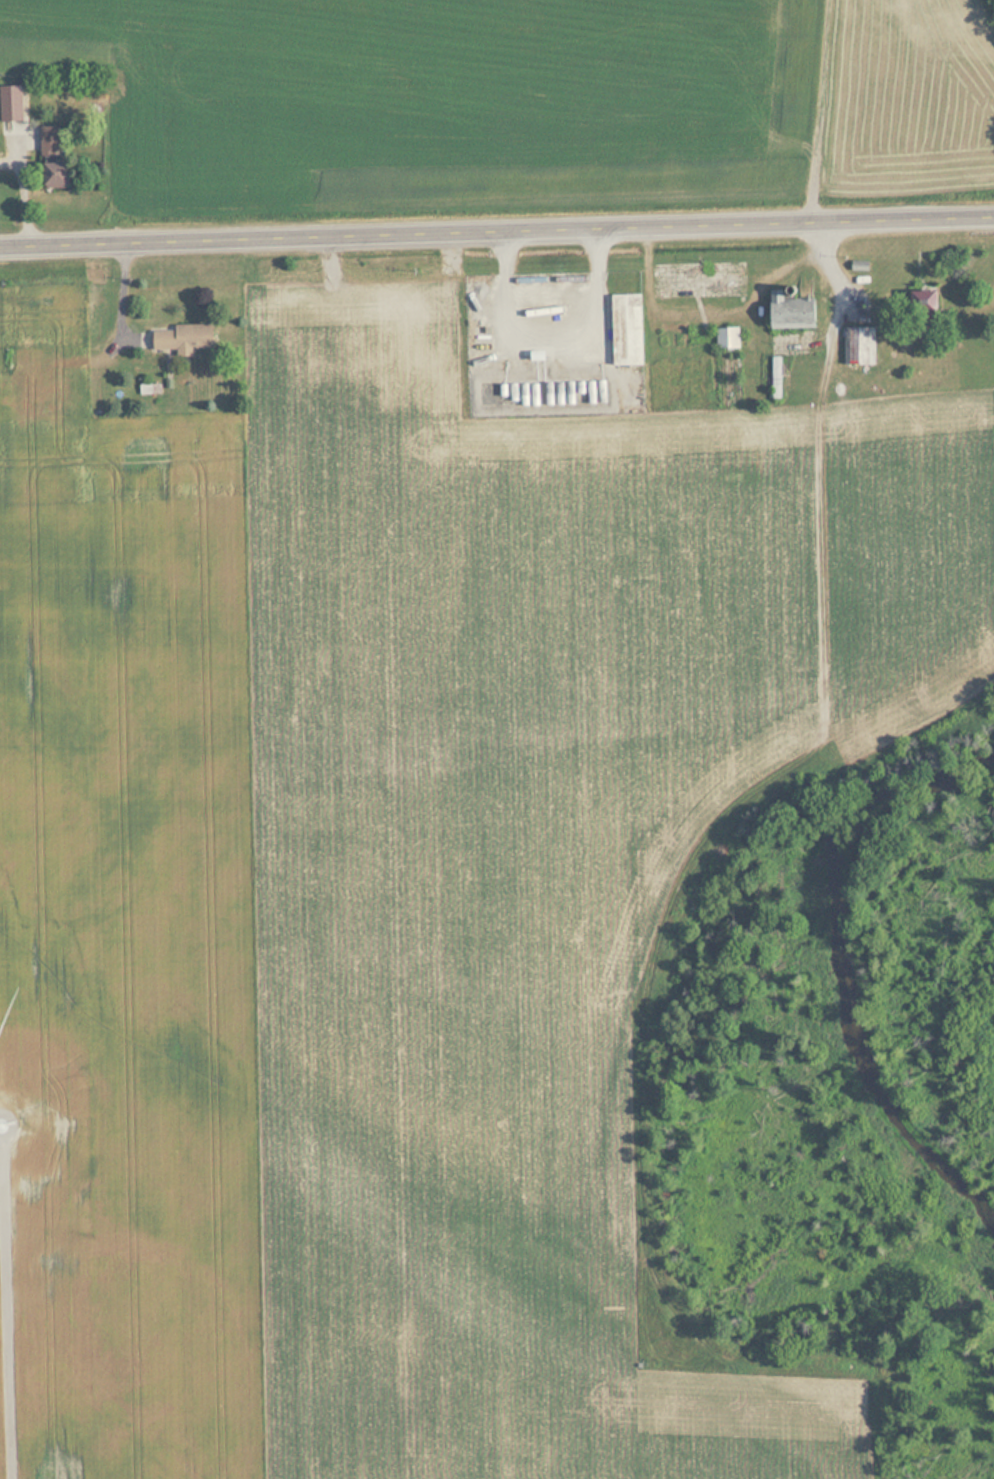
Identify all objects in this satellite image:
building: (14, 100)
building: (53, 141)
building: (65, 175)
road: (496, 231)
building: (918, 301)
building: (785, 314)
building: (622, 329)
building: (724, 337)
building: (180, 338)
building: (858, 345)
building: (773, 377)
road: (817, 728)
river: (849, 982)

